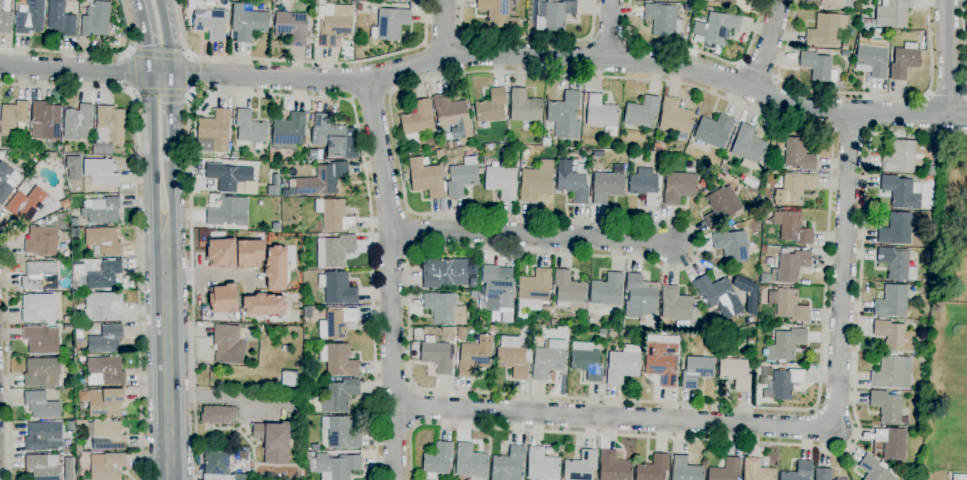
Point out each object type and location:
building: (405, 0)
building: (723, 1)
building: (836, 4)
building: (892, 13)
building: (498, 14)
building: (555, 16)
building: (30, 18)
building: (662, 19)
building: (60, 20)
building: (96, 20)
building: (209, 20)
building: (5, 21)
building: (248, 23)
building: (867, 23)
building: (390, 24)
building: (336, 26)
building: (291, 27)
road: (443, 28)
building: (717, 28)
road: (610, 29)
building: (826, 30)
building: (874, 30)
road: (147, 36)
road: (165, 36)
building: (310, 36)
road: (528, 38)
road: (768, 45)
road: (963, 45)
building: (845, 46)
road: (92, 54)
road: (698, 54)
road: (177, 56)
building: (871, 57)
road: (947, 57)
road: (561, 58)
road: (300, 60)
building: (905, 60)
building: (818, 67)
road: (76, 70)
road: (758, 70)
road: (131, 72)
traffic signals: (152, 74)
traffic signals: (169, 74)
road: (160, 92)
road: (858, 93)
road: (947, 94)
road: (264, 95)
road: (371, 97)
building: (491, 106)
building: (524, 107)
building: (641, 112)
building: (602, 114)
building: (565, 115)
road: (170, 116)
building: (452, 116)
building: (12, 117)
building: (675, 117)
building: (47, 119)
building: (417, 121)
building: (77, 122)
building: (110, 125)
building: (250, 128)
building: (712, 131)
building: (214, 132)
building: (289, 132)
road: (851, 133)
building: (307, 137)
building: (334, 137)
building: (431, 140)
building: (545, 142)
building: (748, 144)
building: (443, 145)
building: (659, 147)
building: (431, 148)
building: (66, 149)
building: (506, 151)
building: (516, 151)
building: (525, 152)
building: (438, 153)
building: (798, 154)
building: (9, 156)
road: (153, 156)
building: (904, 156)
building: (32, 158)
building: (257, 158)
building: (270, 158)
building: (625, 167)
building: (72, 168)
building: (932, 170)
building: (101, 173)
building: (717, 175)
building: (229, 177)
building: (462, 177)
building: (427, 178)
building: (322, 179)
building: (7, 181)
building: (536, 181)
building: (501, 182)
building: (572, 182)
building: (607, 186)
building: (248, 187)
building: (679, 187)
building: (644, 188)
building: (793, 189)
building: (901, 191)
road: (171, 199)
building: (65, 203)
building: (29, 204)
building: (718, 209)
building: (101, 210)
building: (228, 211)
building: (334, 215)
road: (137, 218)
building: (62, 222)
building: (74, 222)
park: (956, 224)
building: (795, 228)
building: (896, 229)
road: (532, 234)
building: (43, 238)
building: (103, 241)
building: (731, 246)
building: (763, 249)
building: (338, 250)
building: (221, 253)
building: (249, 254)
building: (85, 256)
building: (897, 263)
building: (792, 265)
building: (275, 268)
road: (209, 273)
building: (445, 273)
building: (40, 275)
building: (104, 275)
road: (391, 278)
building: (765, 278)
building: (474, 282)
building: (76, 285)
building: (497, 286)
building: (535, 286)
building: (337, 288)
building: (569, 290)
building: (605, 292)
building: (473, 294)
building: (719, 296)
building: (223, 298)
building: (640, 299)
building: (75, 300)
building: (892, 301)
building: (482, 304)
building: (676, 304)
building: (263, 305)
building: (790, 305)
building: (105, 306)
building: (38, 307)
building: (441, 308)
building: (308, 313)
building: (522, 316)
building: (66, 319)
building: (590, 320)
building: (554, 322)
building: (336, 323)
building: (68, 328)
building: (461, 333)
building: (612, 334)
building: (894, 337)
building: (538, 338)
building: (106, 339)
building: (41, 340)
building: (751, 341)
building: (229, 343)
building: (785, 344)
building: (285, 348)
building: (749, 350)
building: (924, 351)
road: (7, 353)
building: (80, 353)
building: (434, 355)
building: (476, 356)
road: (166, 358)
building: (81, 359)
building: (338, 360)
building: (514, 360)
building: (548, 360)
building: (662, 363)
building: (587, 364)
building: (623, 364)
building: (69, 365)
building: (106, 369)
building: (697, 371)
building: (42, 372)
building: (735, 373)
building: (891, 373)
building: (289, 378)
building: (785, 383)
building: (339, 395)
road: (545, 396)
road: (228, 397)
building: (105, 402)
building: (41, 405)
building: (886, 407)
building: (81, 414)
building: (219, 415)
building: (70, 425)
road: (774, 427)
building: (340, 432)
building: (106, 434)
building: (43, 436)
building: (274, 442)
building: (892, 443)
road: (814, 446)
building: (79, 448)
building: (437, 460)
building: (470, 461)
building: (216, 464)
building: (508, 464)
building: (338, 465)
building: (542, 465)
building: (107, 466)
building: (581, 466)
building: (43, 467)
building: (614, 467)
building: (653, 468)
building: (874, 469)
building: (685, 470)
building: (726, 470)
building: (757, 471)
building: (799, 472)
building: (823, 474)
building: (240, 477)
building: (841, 479)

